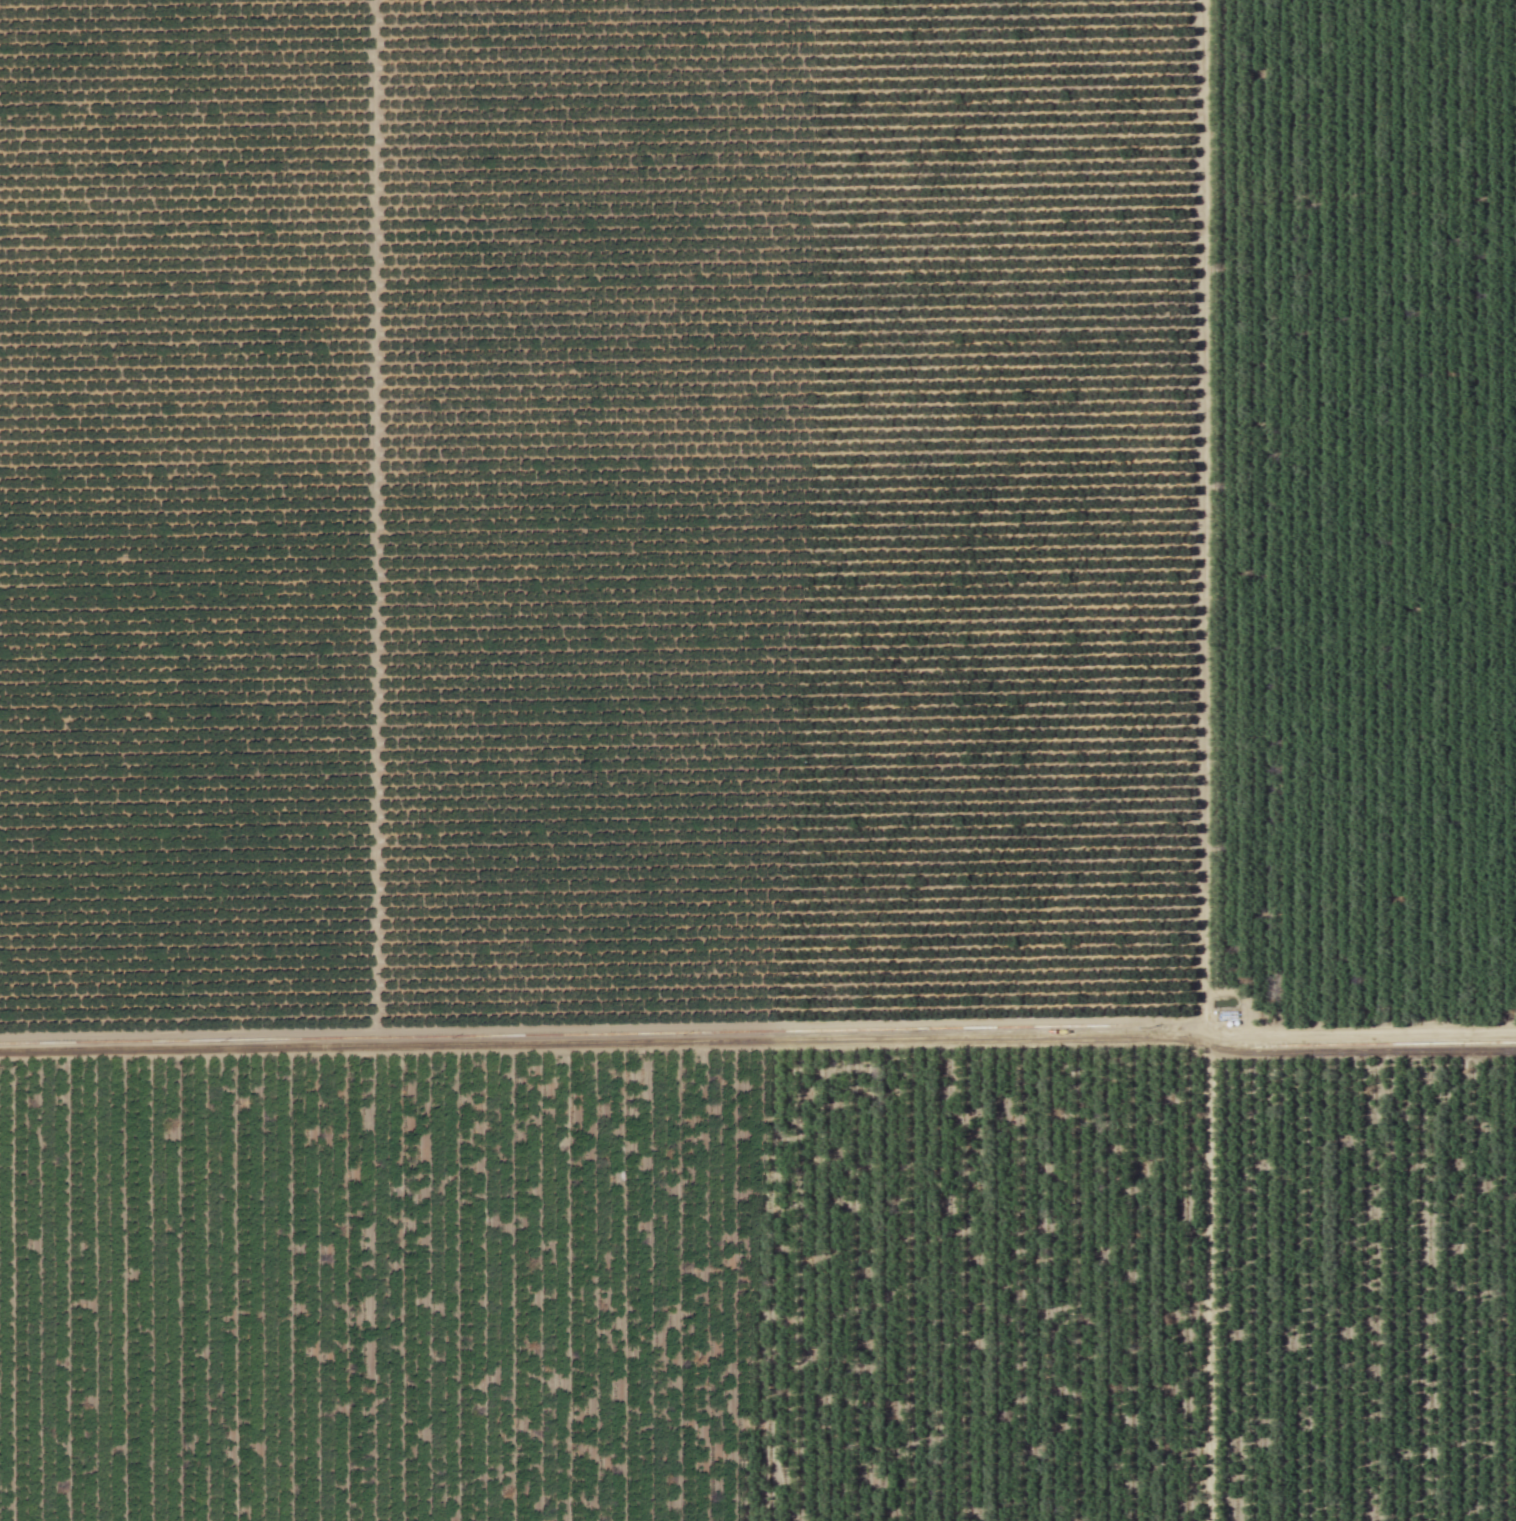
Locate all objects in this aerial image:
road: (758, 1056)

